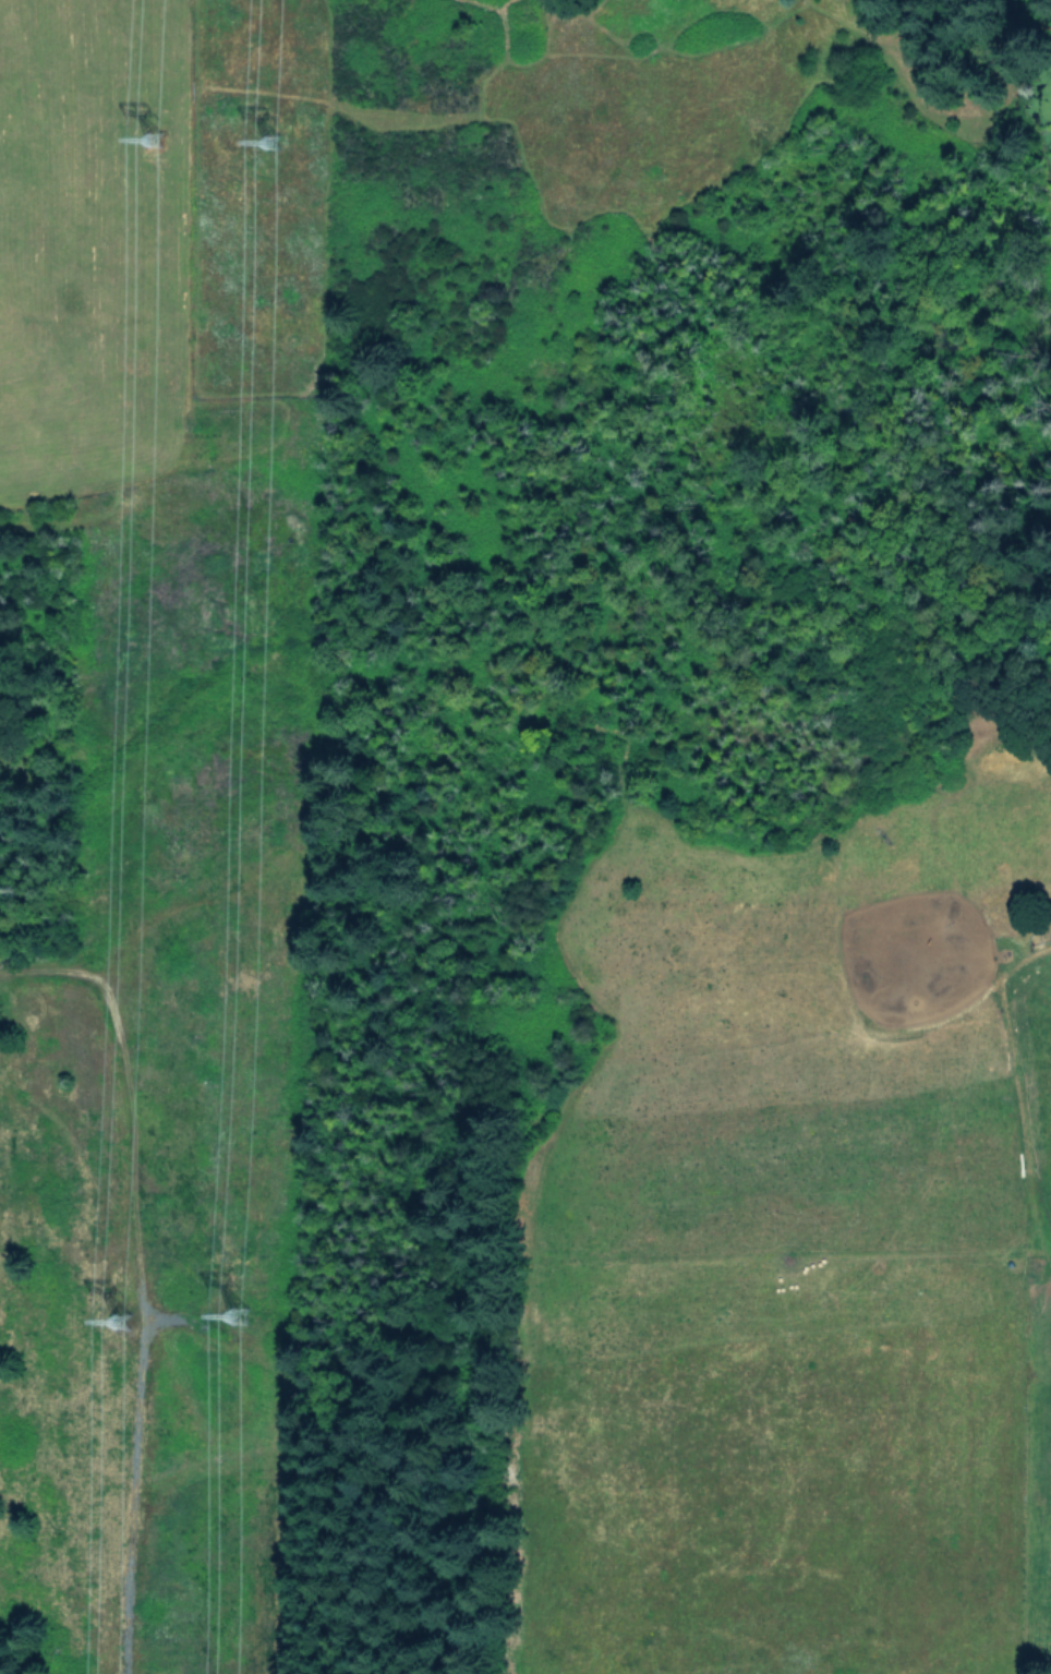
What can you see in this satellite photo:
power tower: (158, 152)
power tower: (282, 153)
power tower: (243, 1330)
power tower: (130, 1341)

